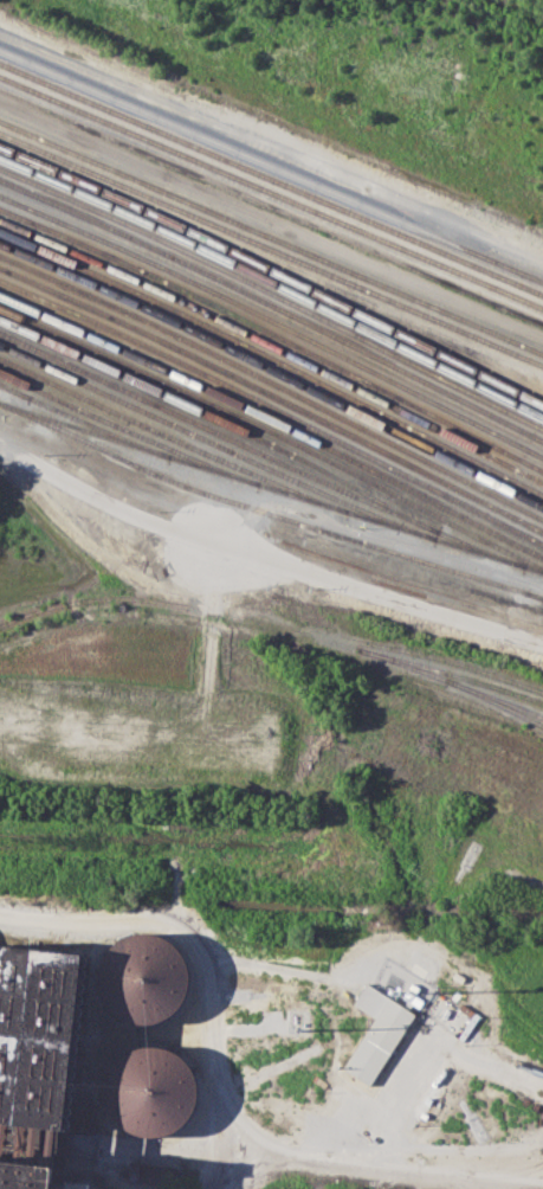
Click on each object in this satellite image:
railway: (271, 165)
railway: (271, 179)
railway: (271, 192)
railway: (271, 236)
railway: (271, 248)
railway: (273, 271)
railway: (273, 282)
railway: (273, 294)
railway: (273, 304)
railway: (273, 321)
railway: (273, 333)
railway: (273, 345)
railway: (273, 358)
railway: (273, 369)
railway: (273, 381)
railway: (221, 383)
railway: (7, 387)
railway: (273, 393)
railway: (273, 422)
railway: (69, 423)
railway: (123, 426)
railway: (214, 431)
railway: (273, 432)
railway: (170, 436)
railway: (260, 437)
railway: (212, 442)
railway: (267, 487)
railway: (264, 510)
railway: (492, 518)
road: (265, 558)
railway: (425, 571)
railway: (539, 596)
railway: (539, 596)
railway: (277, 625)
railway: (451, 673)
railway: (499, 675)
railway: (497, 698)
building: (144, 977)
building: (40, 1033)
building: (380, 1035)
road: (222, 1090)
building: (148, 1092)
road: (256, 1172)
building: (155, 1174)
building: (26, 1176)
building: (80, 1184)

